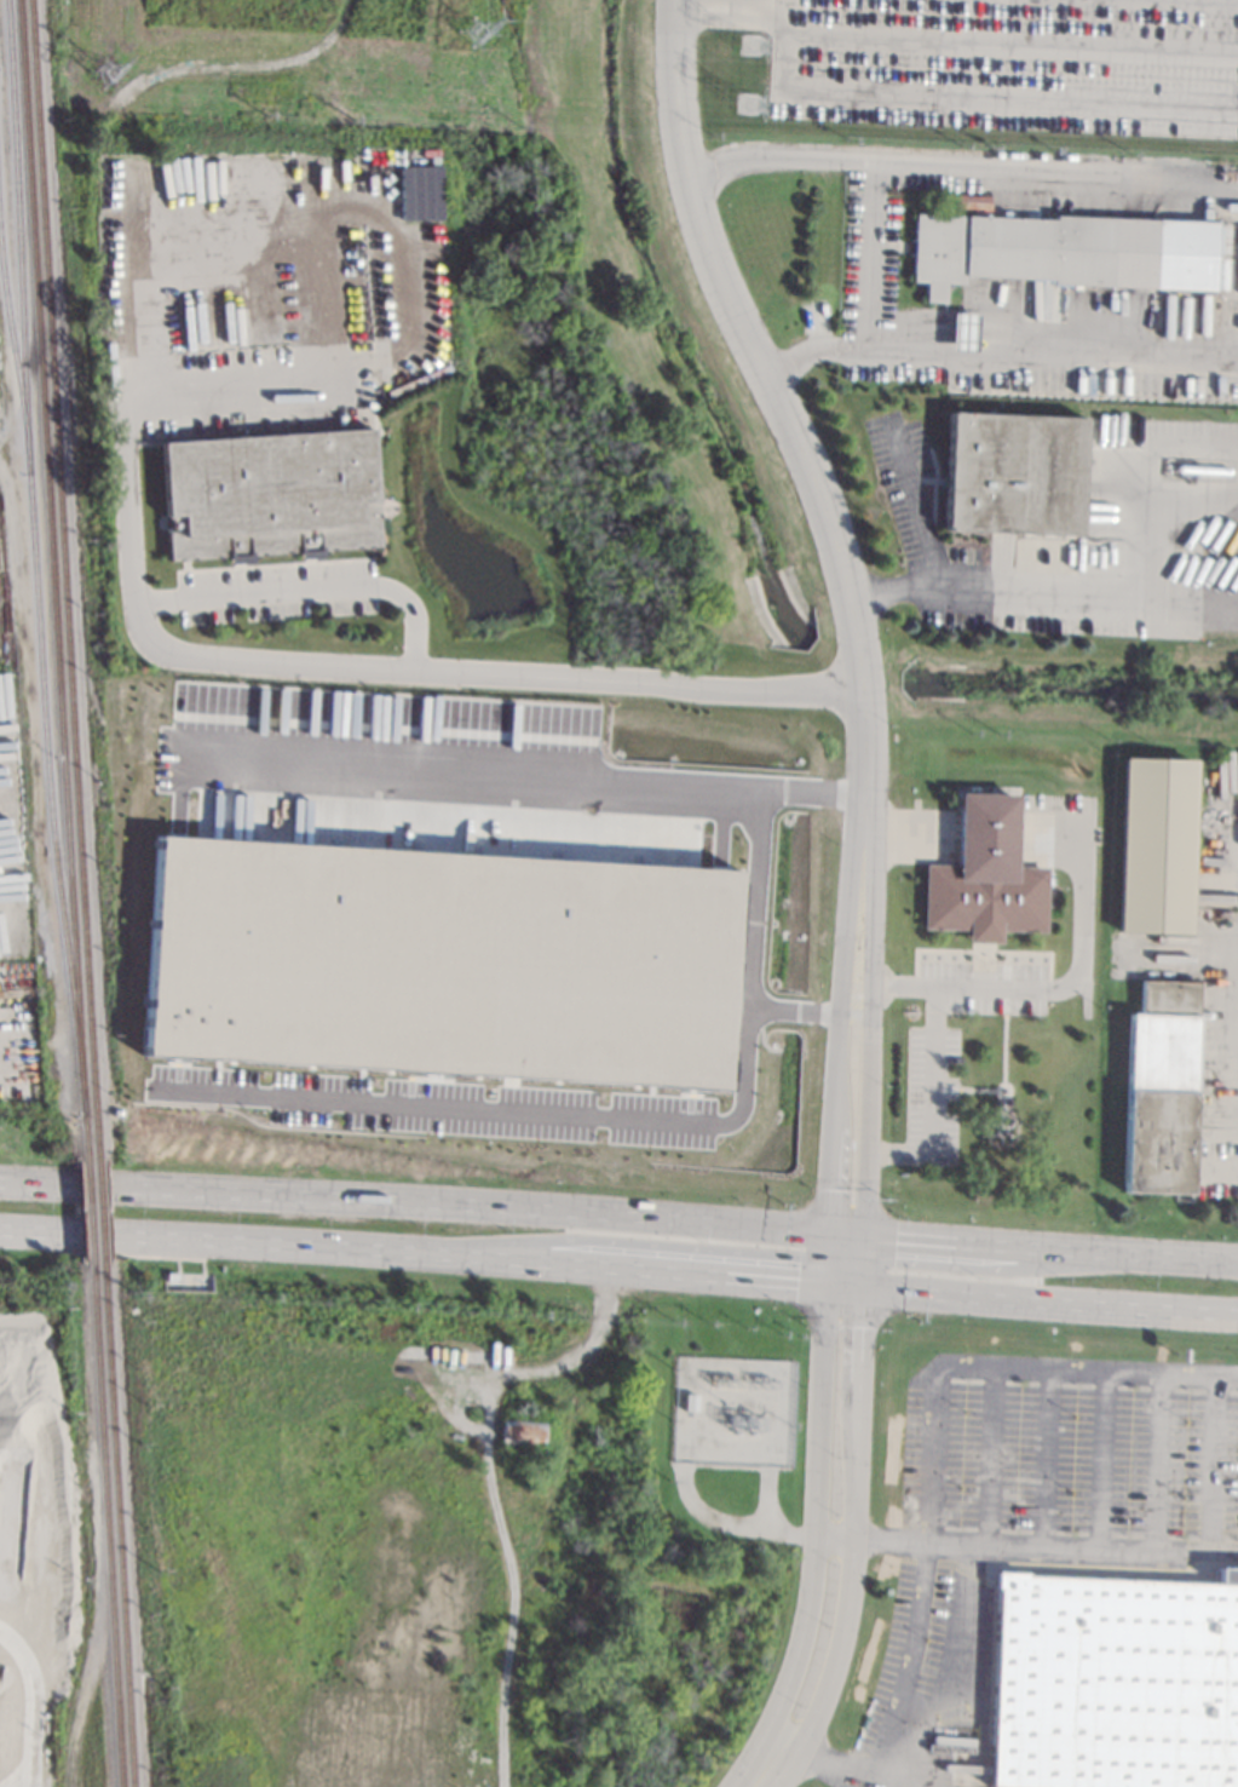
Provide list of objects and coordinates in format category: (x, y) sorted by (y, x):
road: (787, 5)
road: (730, 8)
power tower: (472, 34)
road: (1012, 39)
power tower: (749, 45)
road: (972, 47)
parking lot: (1009, 63)
power tower: (102, 74)
road: (972, 96)
power tower: (747, 104)
road: (960, 166)
building: (418, 193)
building: (1032, 249)
road: (870, 255)
road: (736, 320)
building: (962, 332)
road: (998, 356)
railway: (15, 358)
building: (1013, 473)
building: (270, 492)
road: (914, 502)
railway: (34, 557)
railway: (53, 580)
railway: (64, 580)
road: (1069, 590)
road: (309, 591)
road: (858, 657)
road: (255, 662)
road: (473, 766)
road: (860, 835)
road: (909, 835)
road: (760, 844)
building: (1156, 845)
building: (984, 875)
building: (448, 963)
road: (1069, 981)
road: (1003, 1036)
road: (997, 1085)
road: (963, 1088)
building: (1161, 1088)
parking lot: (931, 1094)
road: (931, 1102)
road: (833, 1105)
road: (868, 1108)
road: (597, 1109)
road: (1001, 1110)
building: (115, 1111)
park: (989, 1117)
road: (996, 1124)
road: (414, 1201)
railway: (90, 1212)
railway: (100, 1212)
traffic signals: (828, 1231)
traffic signals: (864, 1235)
road: (621, 1241)
road: (1032, 1247)
road: (413, 1251)
road: (827, 1258)
road: (863, 1262)
building: (146, 1272)
traffic signals: (827, 1286)
road: (845, 1287)
traffic signals: (863, 1289)
road: (1049, 1302)
road: (1083, 1368)
power substation: (733, 1410)
building: (522, 1430)
road: (989, 1453)
road: (1046, 1455)
road: (1102, 1458)
road: (1158, 1460)
road: (1217, 1463)
road: (816, 1519)
parking lot: (1032, 1521)
railway: (106, 1524)
railway: (117, 1524)
road: (854, 1530)
road: (1026, 1544)
road: (923, 1580)
road: (963, 1671)
building: (1115, 1682)
road: (33, 1703)
road: (823, 1759)
road: (764, 1768)

